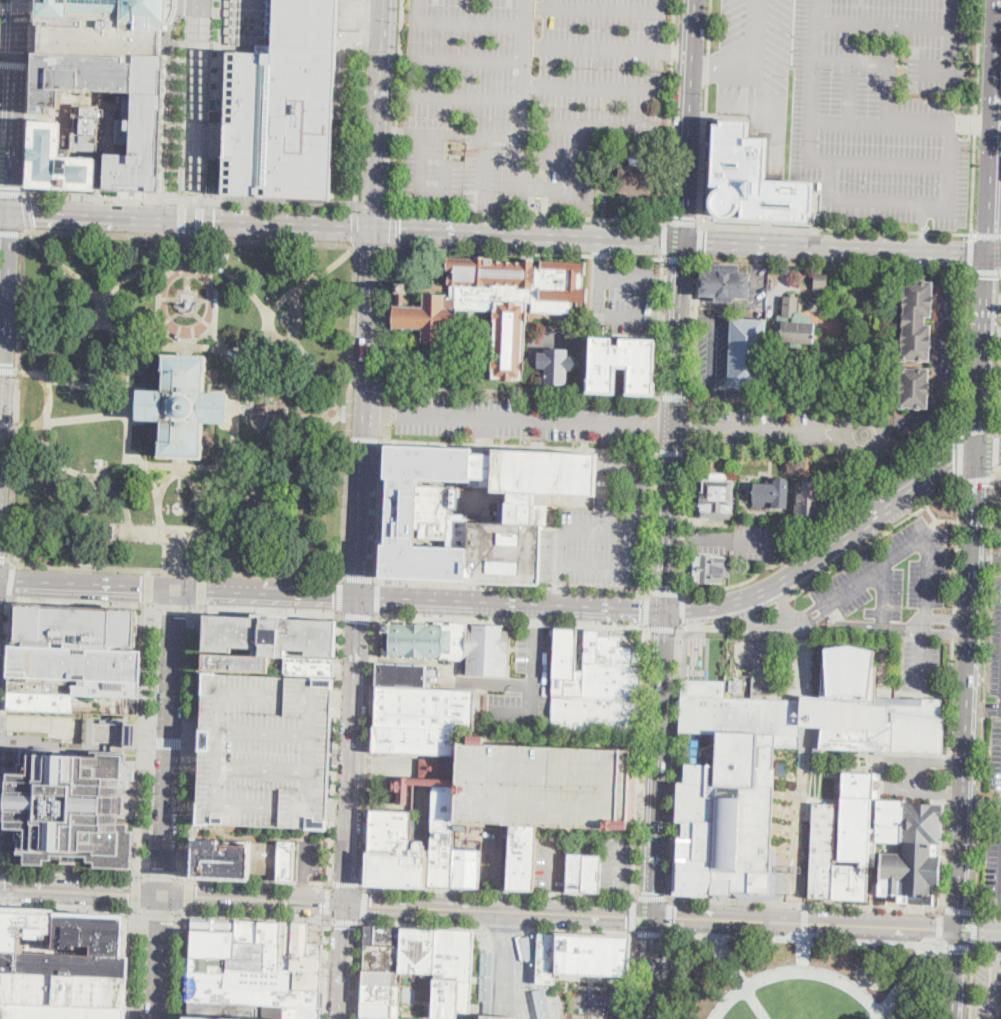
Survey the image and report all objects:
road: (418, 11)
road: (602, 11)
building: (236, 21)
road: (253, 24)
road: (364, 24)
building: (106, 25)
road: (472, 25)
road: (658, 25)
road: (709, 26)
road: (885, 26)
road: (951, 46)
road: (225, 47)
road: (601, 47)
road: (675, 53)
parking lot: (754, 56)
road: (747, 57)
road: (15, 63)
road: (470, 63)
road: (881, 63)
road: (347, 67)
road: (708, 69)
building: (81, 75)
road: (591, 88)
road: (850, 92)
road: (29, 97)
road: (469, 98)
parking lot: (525, 98)
road: (195, 100)
building: (287, 105)
road: (398, 105)
road: (15, 106)
road: (524, 107)
road: (607, 108)
road: (670, 110)
parking lot: (887, 110)
road: (382, 114)
road: (968, 116)
road: (978, 117)
road: (688, 121)
parking lot: (283, 124)
road: (901, 125)
road: (558, 126)
road: (972, 127)
road: (359, 128)
road: (631, 128)
road: (992, 128)
road: (997, 128)
building: (142, 131)
road: (395, 134)
road: (434, 136)
building: (69, 150)
building: (610, 150)
road: (485, 151)
road: (703, 153)
road: (556, 155)
road: (877, 164)
building: (751, 177)
building: (634, 179)
road: (421, 187)
road: (11, 193)
road: (566, 193)
road: (189, 200)
road: (183, 203)
road: (200, 204)
building: (538, 204)
road: (374, 209)
road: (5, 212)
traffic signals: (11, 213)
road: (25, 213)
road: (532, 214)
road: (544, 214)
road: (96, 216)
road: (529, 216)
road: (182, 218)
road: (199, 219)
road: (682, 221)
traffic signals: (214, 222)
road: (279, 224)
road: (356, 227)
traffic signals: (377, 229)
road: (393, 229)
road: (835, 229)
road: (924, 229)
road: (11, 233)
road: (986, 235)
road: (182, 236)
road: (198, 236)
road: (664, 239)
road: (189, 240)
road: (698, 240)
road: (682, 242)
traffic signals: (683, 243)
road: (374, 246)
road: (599, 250)
road: (528, 252)
road: (972, 252)
traffic signals: (988, 256)
road: (994, 256)
road: (681, 258)
road: (835, 264)
road: (147, 270)
road: (986, 271)
road: (72, 272)
road: (312, 279)
road: (620, 281)
building: (725, 282)
road: (670, 283)
building: (402, 288)
building: (558, 289)
building: (820, 292)
building: (838, 294)
parking lot: (626, 296)
road: (993, 299)
road: (6, 306)
building: (480, 307)
road: (690, 311)
road: (609, 316)
road: (286, 319)
road: (668, 319)
road: (299, 320)
road: (372, 320)
building: (917, 320)
building: (796, 324)
road: (389, 325)
road: (993, 327)
road: (697, 328)
road: (679, 334)
road: (661, 335)
road: (186, 340)
road: (185, 344)
parking lot: (947, 344)
road: (188, 347)
road: (712, 347)
parking lot: (713, 351)
road: (967, 351)
building: (747, 353)
road: (983, 355)
building: (623, 363)
building: (557, 365)
road: (132, 366)
road: (8, 371)
road: (939, 375)
building: (915, 388)
road: (998, 391)
road: (522, 392)
road: (16, 396)
road: (1, 398)
road: (676, 398)
traffic signals: (2, 399)
road: (48, 400)
road: (770, 401)
park: (183, 405)
road: (289, 405)
building: (183, 406)
road: (693, 408)
road: (999, 409)
road: (350, 411)
road: (709, 411)
road: (386, 413)
road: (258, 418)
road: (289, 418)
road: (72, 419)
parking lot: (519, 420)
road: (530, 420)
road: (7, 423)
road: (0, 424)
road: (235, 424)
road: (657, 424)
road: (258, 425)
road: (692, 427)
parking lot: (769, 428)
road: (770, 429)
road: (978, 429)
road: (329, 430)
road: (886, 430)
road: (365, 440)
road: (519, 447)
road: (996, 450)
road: (989, 451)
road: (673, 452)
traffic signals: (978, 455)
road: (960, 456)
road: (884, 460)
road: (179, 465)
road: (998, 467)
road: (623, 470)
road: (77, 472)
road: (977, 479)
building: (772, 494)
building: (718, 496)
road: (156, 498)
building: (544, 498)
building: (809, 498)
road: (202, 499)
road: (613, 500)
road: (380, 502)
road: (365, 506)
building: (474, 511)
road: (84, 513)
road: (652, 514)
road: (687, 514)
road: (268, 515)
road: (669, 517)
road: (631, 519)
road: (937, 519)
road: (934, 522)
road: (827, 527)
parking lot: (603, 529)
road: (597, 530)
road: (181, 535)
road: (727, 539)
road: (874, 539)
parking lot: (738, 541)
road: (956, 546)
road: (828, 550)
road: (177, 552)
road: (562, 557)
road: (987, 557)
road: (1000, 558)
road: (5, 560)
road: (595, 567)
building: (712, 569)
road: (176, 570)
road: (359, 577)
road: (860, 580)
road: (927, 580)
road: (11, 581)
road: (149, 584)
road: (89, 587)
road: (201, 587)
road: (513, 587)
traffic signals: (140, 590)
road: (341, 592)
road: (665, 593)
road: (884, 594)
road: (269, 595)
road: (561, 595)
road: (377, 598)
road: (5, 599)
parking lot: (890, 599)
traffic signals: (361, 600)
road: (784, 601)
road: (86, 602)
road: (483, 603)
road: (784, 604)
road: (175, 608)
road: (636, 608)
road: (263, 609)
road: (766, 609)
road: (647, 610)
traffic signals: (666, 610)
road: (682, 610)
road: (358, 614)
traffic signals: (177, 615)
road: (745, 616)
road: (947, 619)
road: (512, 620)
road: (537, 620)
road: (761, 621)
road: (708, 625)
road: (857, 625)
road: (953, 625)
building: (80, 626)
road: (664, 627)
road: (948, 633)
building: (265, 641)
building: (453, 645)
road: (510, 647)
road: (924, 657)
building: (76, 663)
building: (311, 665)
building: (401, 674)
road: (534, 675)
parking lot: (998, 682)
building: (41, 684)
building: (595, 684)
road: (499, 685)
building: (108, 687)
road: (985, 688)
parking lot: (522, 689)
road: (970, 692)
road: (346, 700)
building: (40, 701)
building: (108, 704)
building: (424, 707)
road: (511, 715)
road: (42, 725)
road: (4, 735)
building: (416, 739)
road: (143, 740)
road: (194, 741)
road: (149, 743)
road: (169, 743)
road: (170, 744)
road: (189, 744)
road: (335, 747)
building: (267, 752)
parking lot: (267, 752)
road: (354, 752)
road: (367, 753)
road: (639, 761)
road: (675, 762)
road: (659, 763)
road: (386, 764)
road: (430, 766)
building: (729, 766)
building: (430, 767)
road: (450, 767)
road: (890, 775)
parking lot: (914, 776)
road: (947, 776)
building: (533, 785)
parking lot: (533, 785)
road: (638, 799)
building: (74, 804)
road: (341, 804)
road: (261, 830)
building: (390, 831)
parking lot: (995, 837)
building: (843, 842)
building: (911, 850)
building: (442, 856)
parking lot: (309, 857)
building: (523, 857)
parking lot: (552, 858)
building: (273, 859)
parking lot: (491, 859)
building: (221, 860)
road: (498, 860)
road: (553, 860)
parking lot: (617, 863)
road: (616, 866)
building: (466, 868)
building: (400, 869)
building: (575, 872)
road: (74, 873)
road: (302, 873)
building: (591, 873)
road: (163, 874)
road: (235, 881)
road: (346, 882)
road: (301, 884)
road: (319, 885)
traffic signals: (4, 890)
road: (137, 892)
traffic signals: (654, 892)
road: (188, 893)
road: (500, 893)
road: (82, 894)
road: (651, 897)
traffic signals: (165, 898)
road: (327, 899)
road: (496, 900)
road: (551, 901)
road: (256, 902)
road: (364, 904)
road: (615, 904)
road: (807, 904)
traffic signals: (321, 905)
road: (74, 907)
traffic signals: (371, 907)
road: (428, 908)
road: (960, 909)
road: (515, 911)
road: (988, 911)
road: (161, 913)
road: (587, 913)
traffic signals: (627, 915)
road: (632, 915)
road: (670, 916)
traffic signals: (675, 916)
road: (805, 916)
road: (251, 917)
road: (345, 921)
road: (807, 922)
road: (424, 924)
building: (214, 925)
traffic signals: (347, 926)
road: (940, 927)
road: (346, 928)
road: (504, 928)
traffic signals: (934, 928)
road: (975, 929)
building: (30, 930)
road: (980, 930)
road: (577, 931)
traffic signals: (982, 931)
building: (246, 932)
building: (95, 933)
road: (650, 933)
building: (316, 934)
road: (507, 934)
building: (287, 937)
road: (809, 940)
building: (271, 945)
road: (959, 946)
road: (985, 947)
building: (228, 950)
road: (804, 950)
traffic signals: (960, 951)
building: (580, 956)
road: (162, 958)
building: (304, 961)
road: (134, 962)
road: (185, 962)
building: (487, 962)
building: (64, 964)
building: (209, 966)
road: (326, 966)
building: (415, 967)
road: (650, 967)
road: (506, 968)
road: (360, 970)
road: (487, 972)
road: (797, 972)
road: (531, 974)
road: (959, 974)
road: (630, 976)
road: (668, 977)
road: (744, 977)
park: (800, 980)
road: (937, 980)
road: (903, 982)
road: (971, 983)
road: (344, 985)
road: (522, 987)
building: (64, 990)
building: (251, 990)
road: (505, 999)
building: (519, 1010)
parking lot: (519, 1010)
building: (60, 1011)
building: (223, 1011)
building: (289, 1012)
building: (196, 1018)

